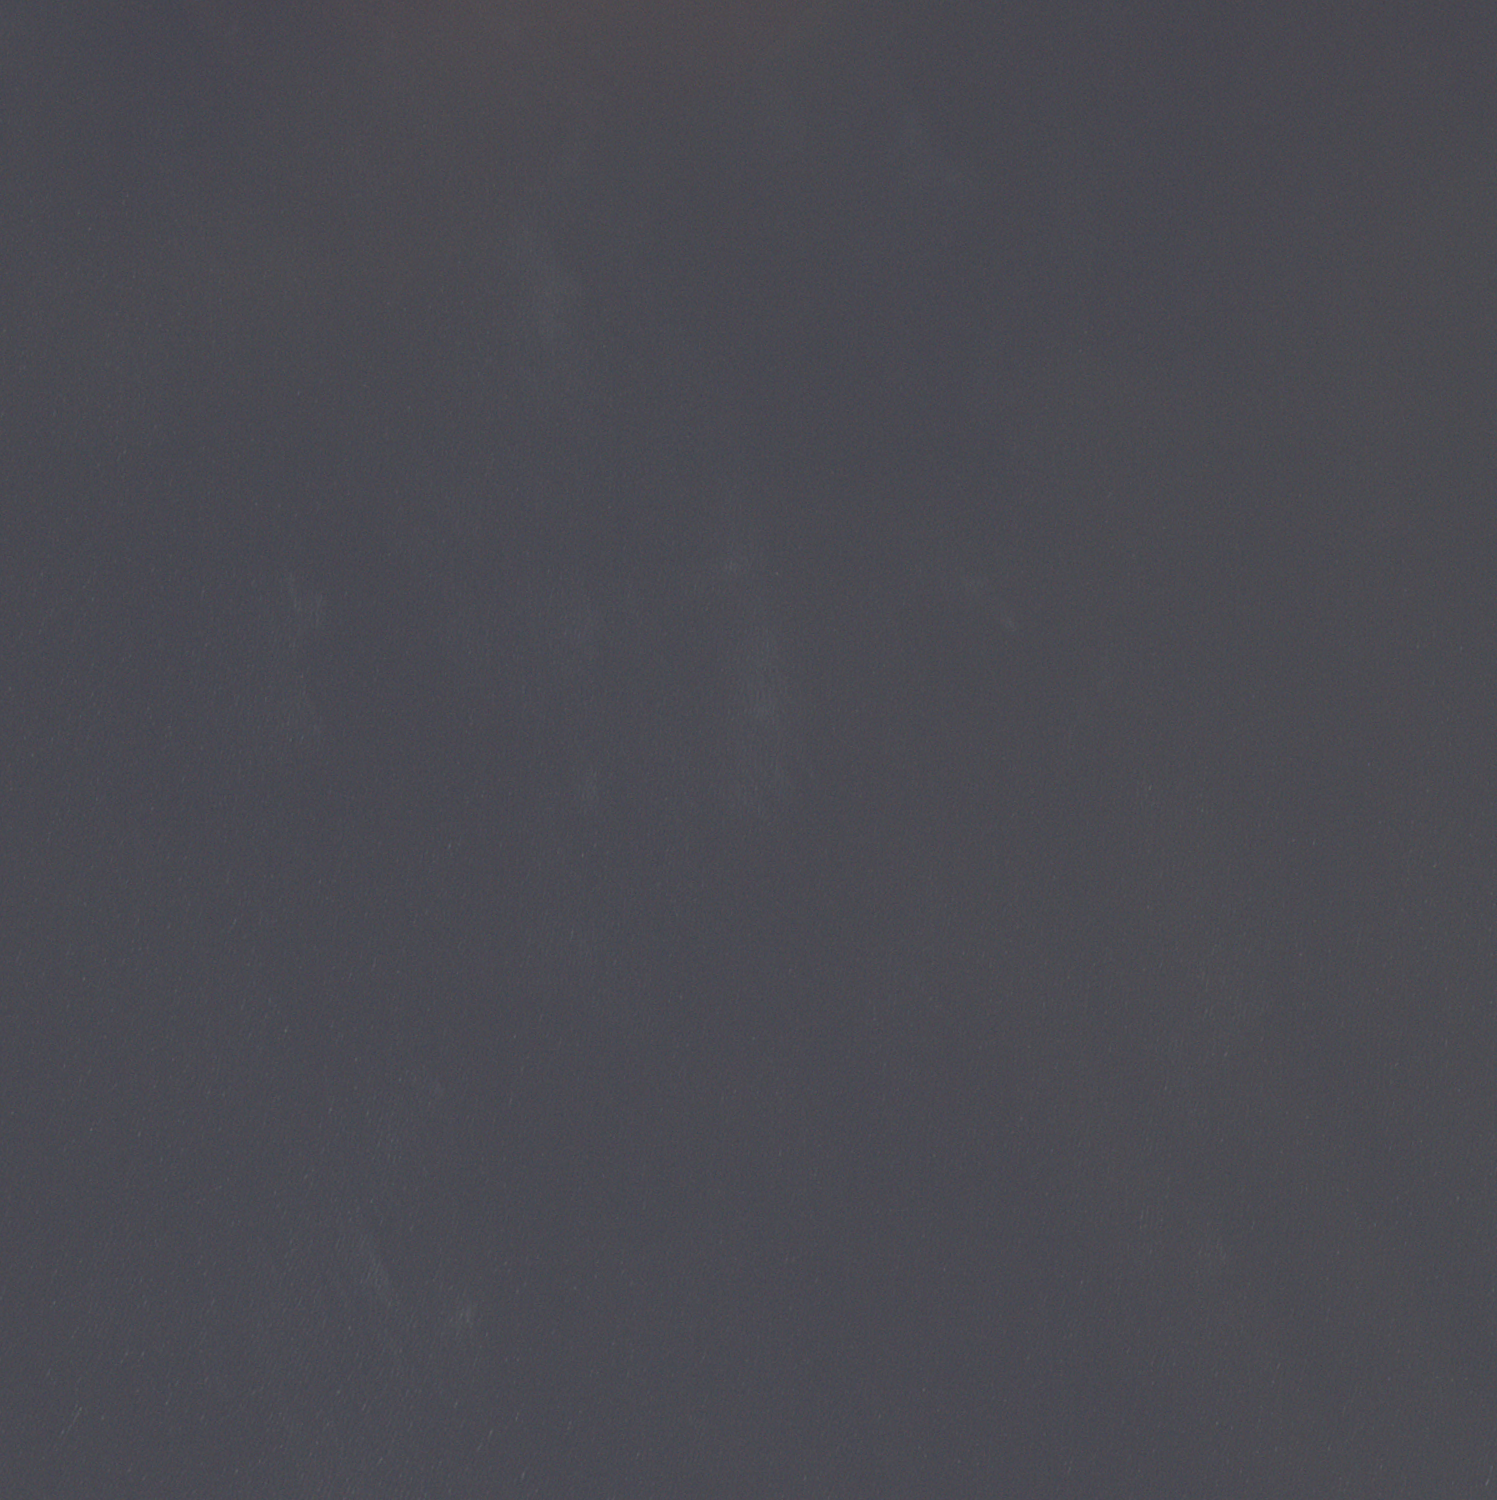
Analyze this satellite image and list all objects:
river: (286, 1348)

